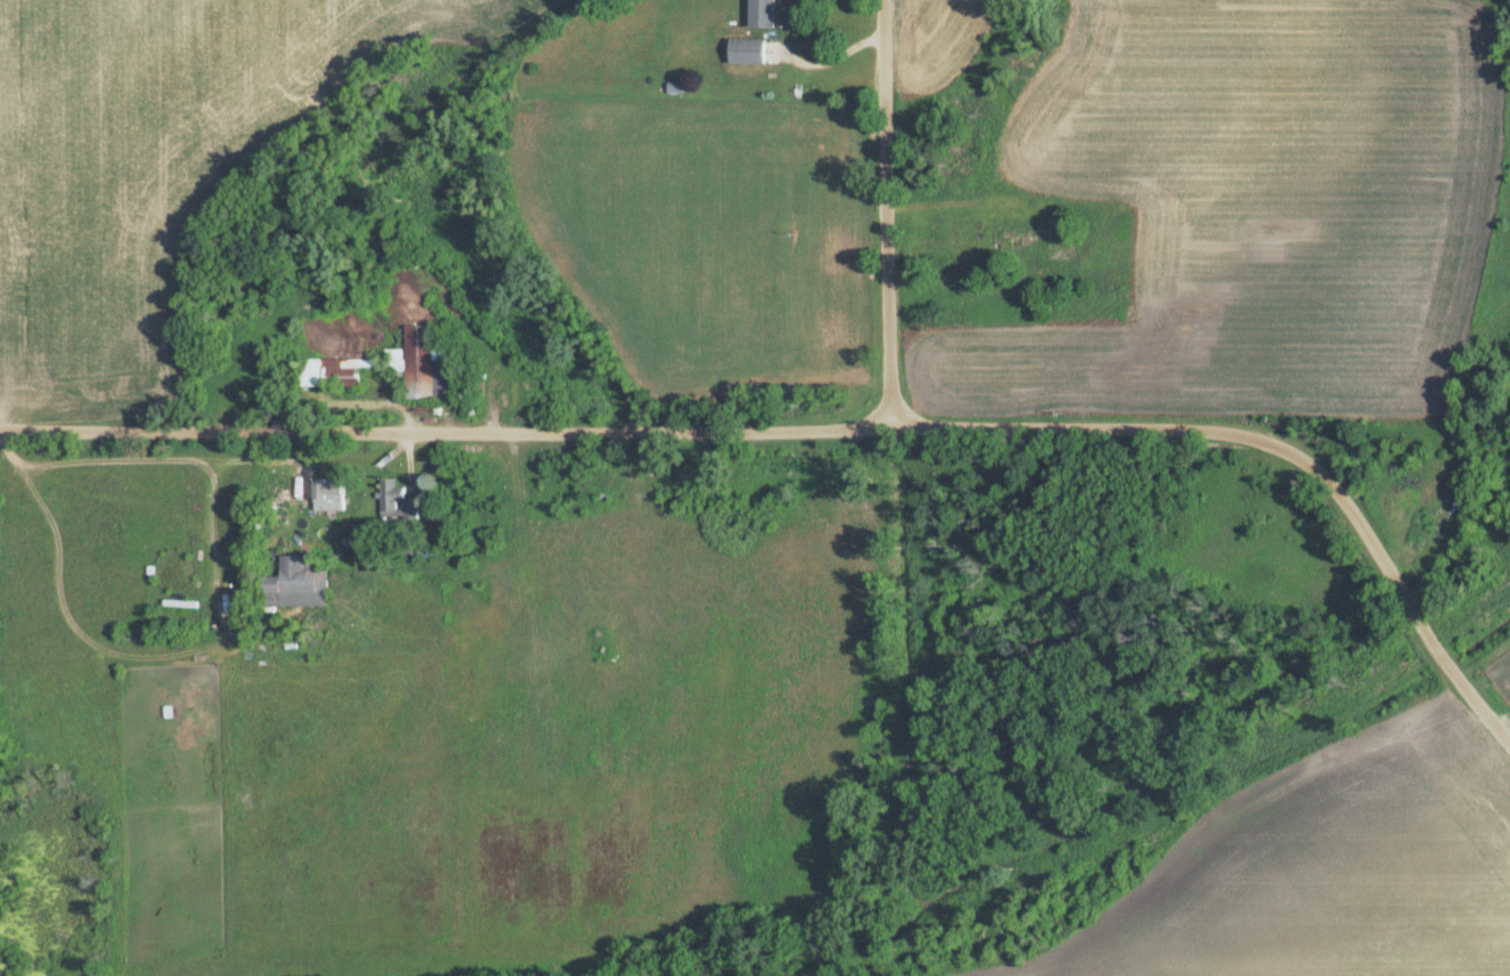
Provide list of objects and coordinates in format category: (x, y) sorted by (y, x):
building: (764, 14)
building: (749, 52)
road: (828, 58)
road: (887, 212)
building: (1001, 241)
building: (396, 369)
road: (447, 431)
road: (1280, 436)
building: (331, 497)
building: (390, 500)
building: (448, 534)
building: (296, 586)

